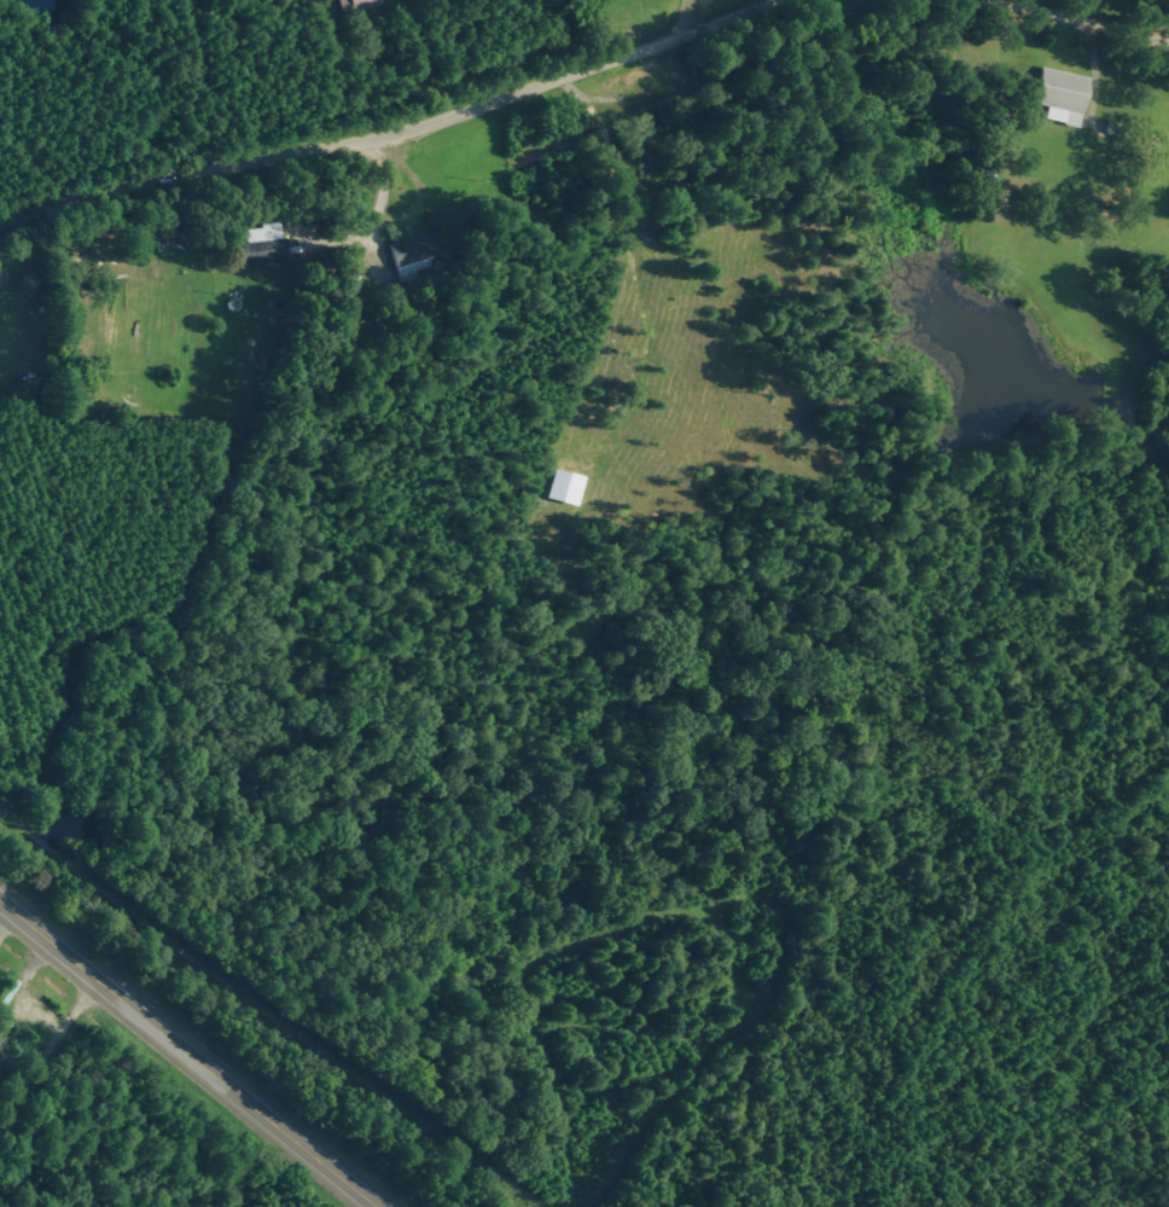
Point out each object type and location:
building: (361, 5)
road: (691, 10)
road: (576, 57)
building: (1058, 93)
building: (256, 243)
building: (412, 253)
building: (563, 486)
road: (45, 1032)
road: (190, 1051)

